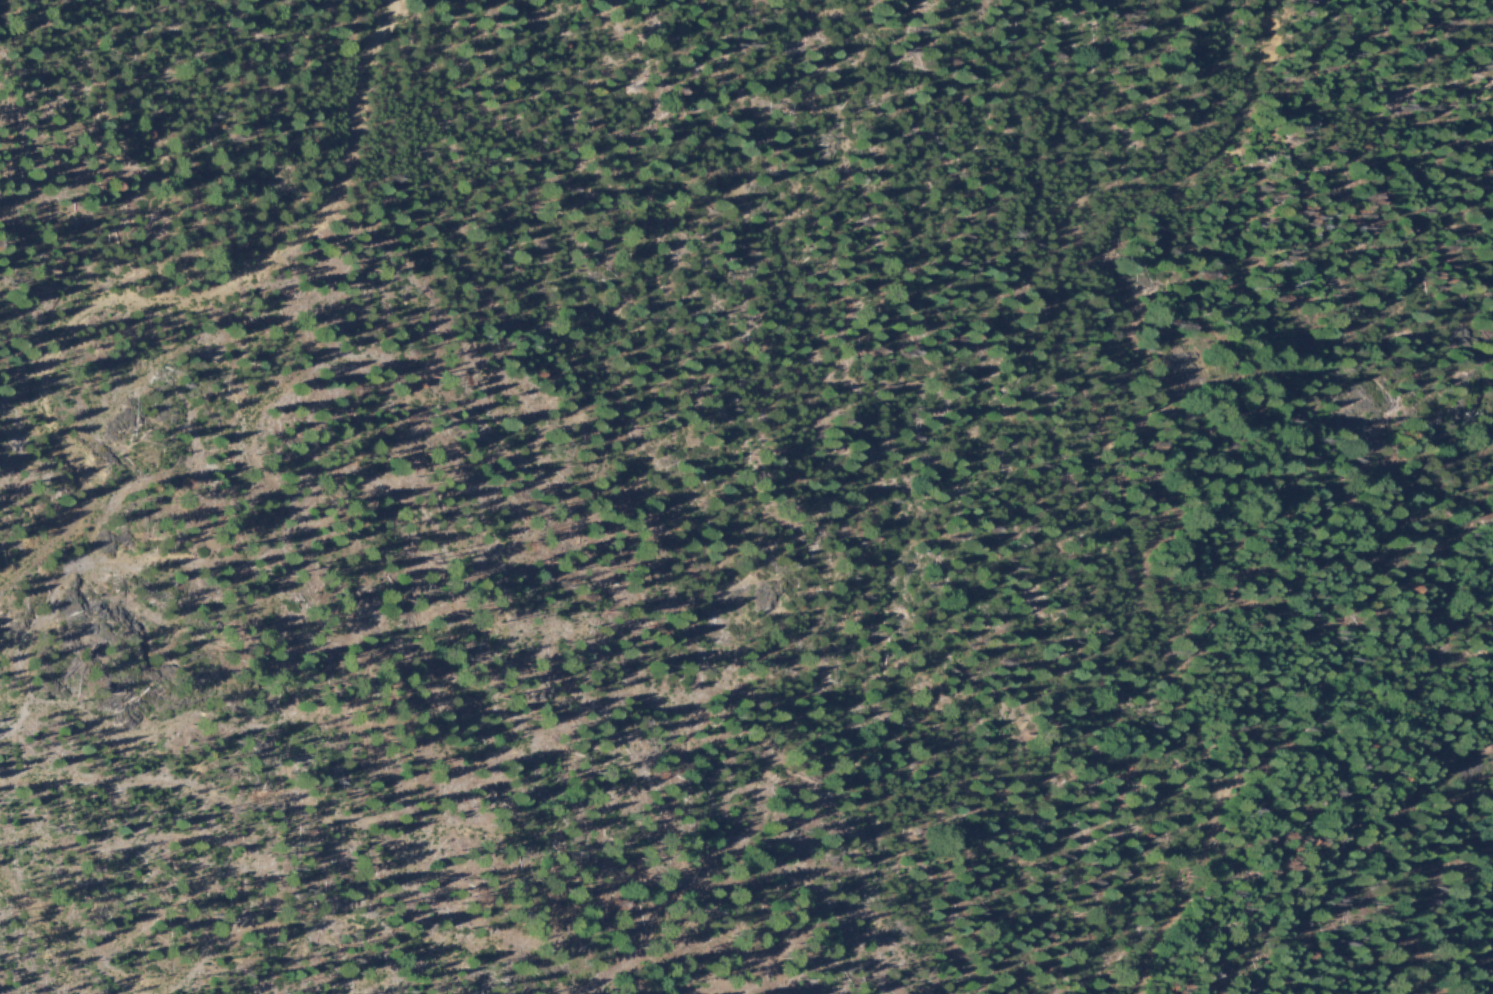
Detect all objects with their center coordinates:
road: (150, 301)

